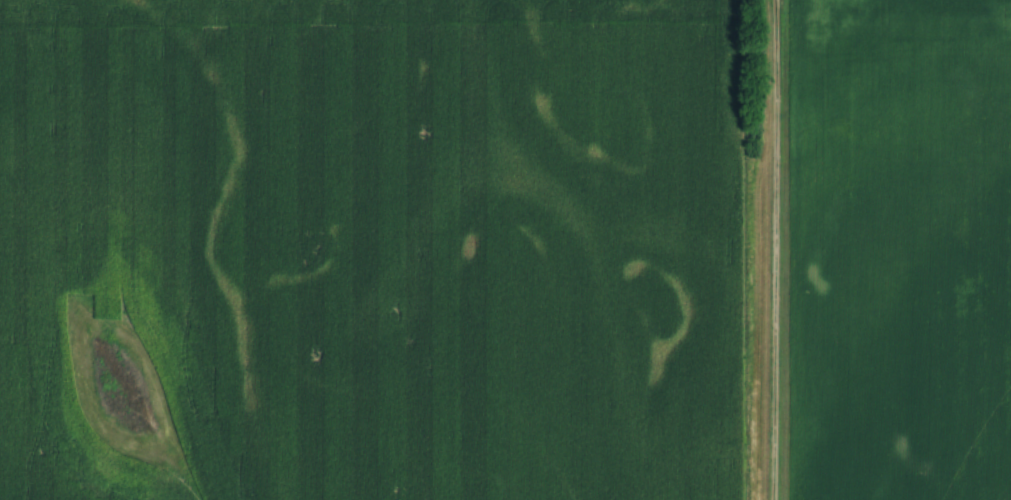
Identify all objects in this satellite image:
road: (769, 249)

